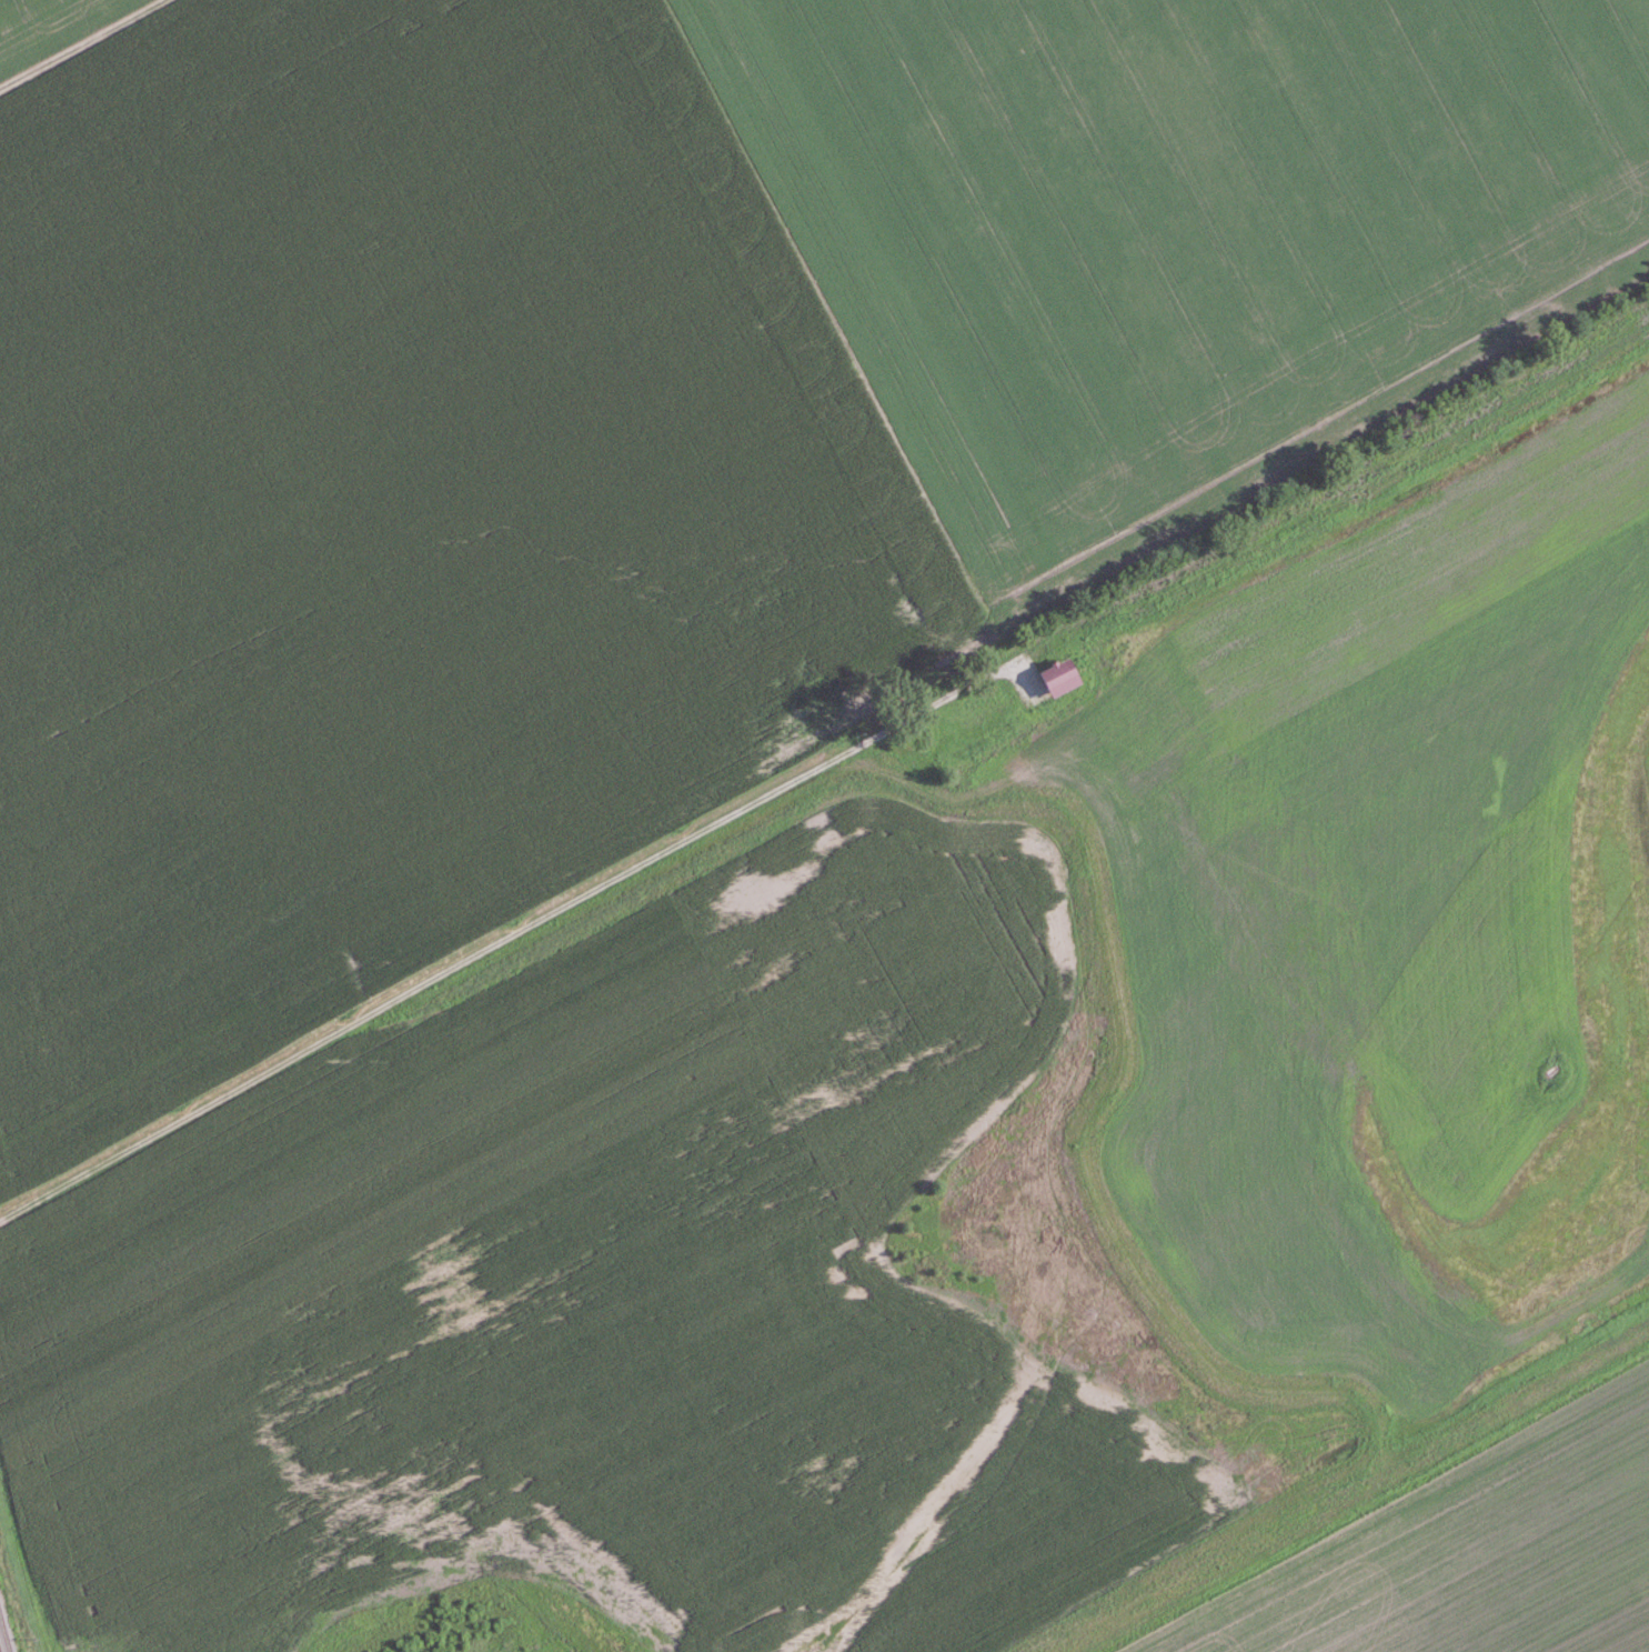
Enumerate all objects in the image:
building: (1054, 675)
road: (503, 938)
railway: (4, 1633)

